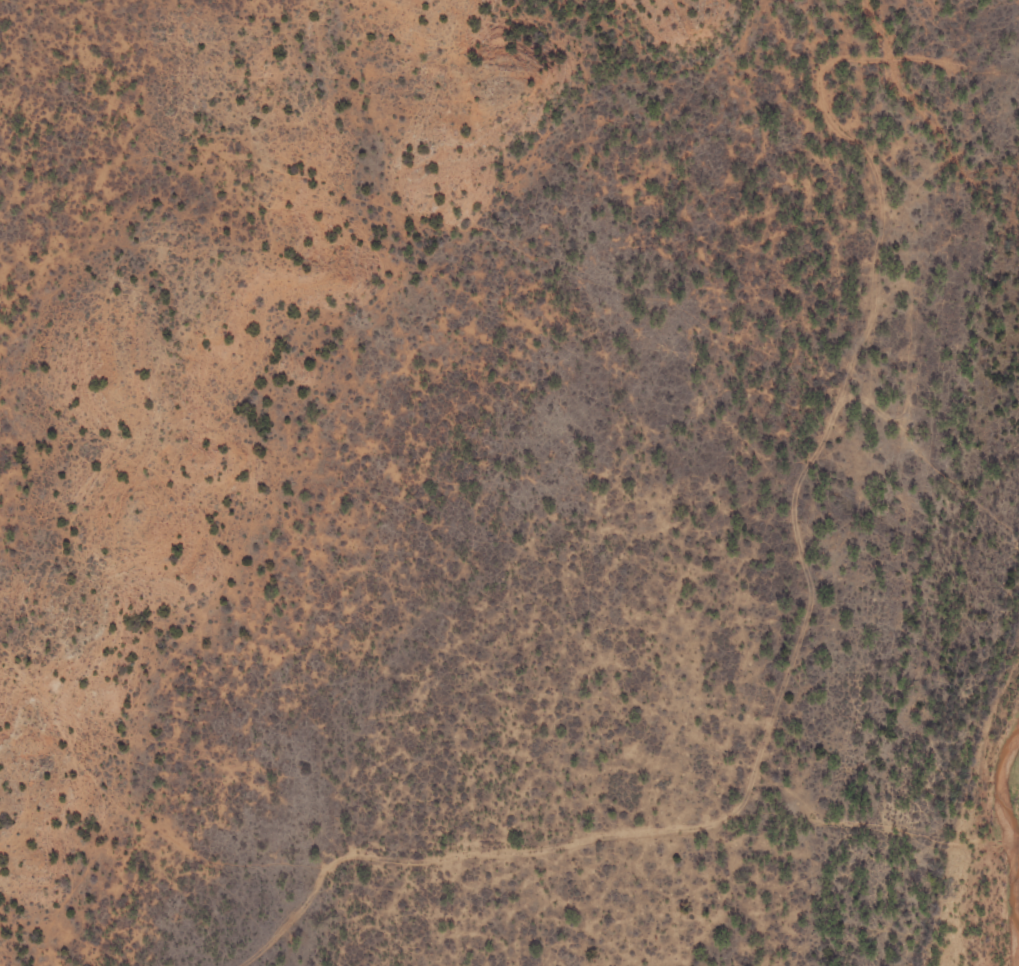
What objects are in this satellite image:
river: (1013, 772)

